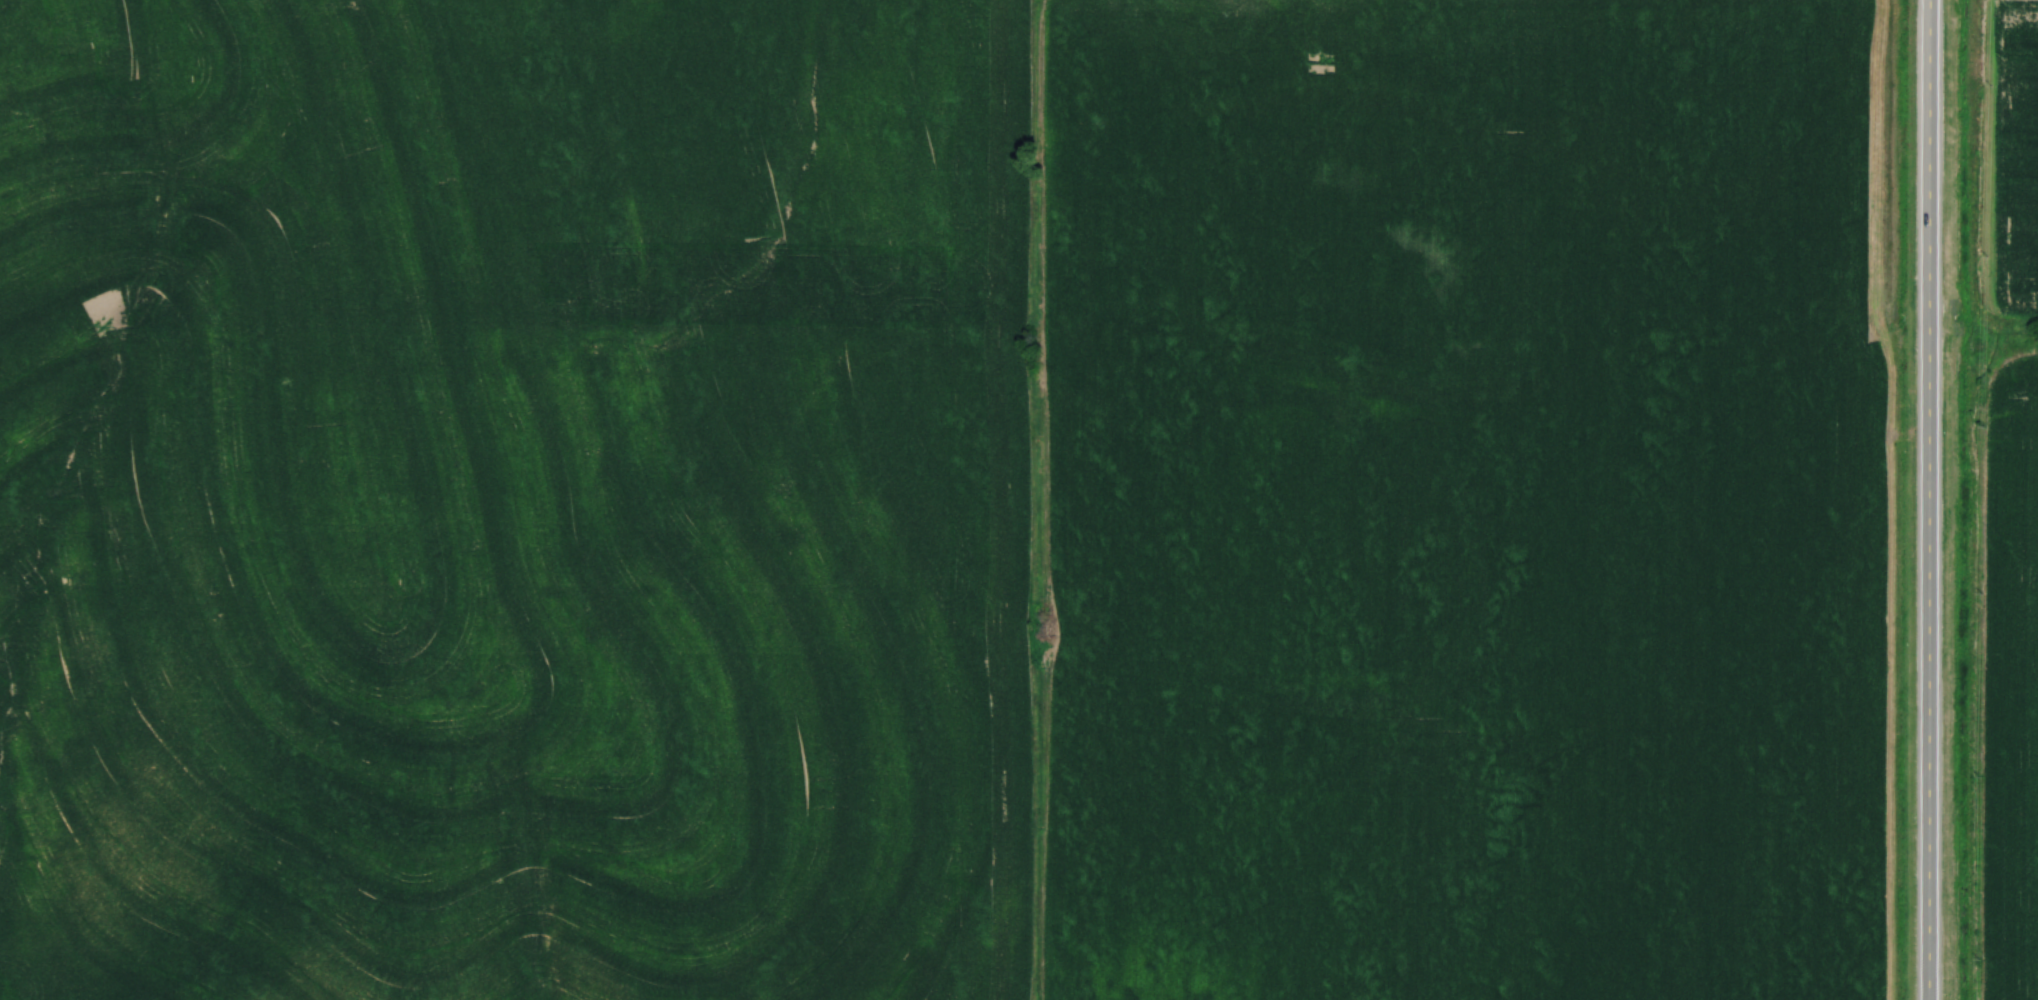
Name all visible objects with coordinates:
road: (1931, 500)

